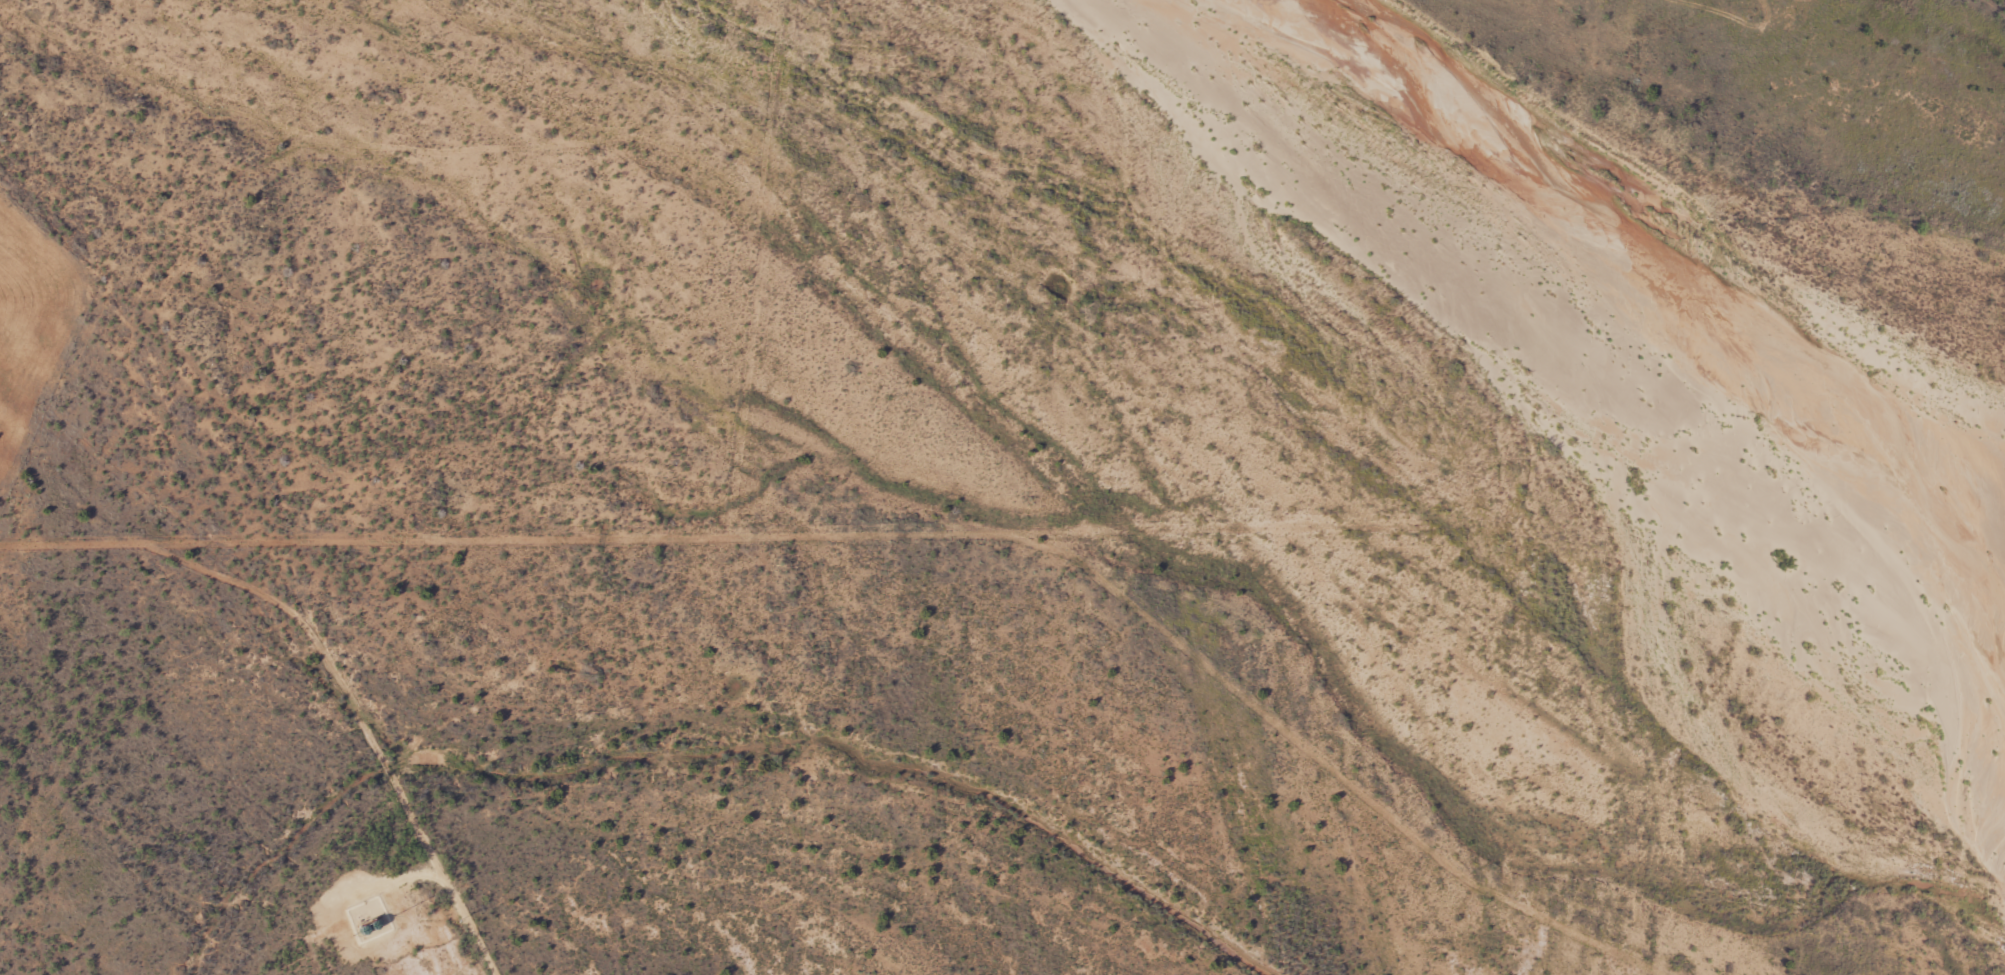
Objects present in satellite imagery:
river: (1693, 294)

